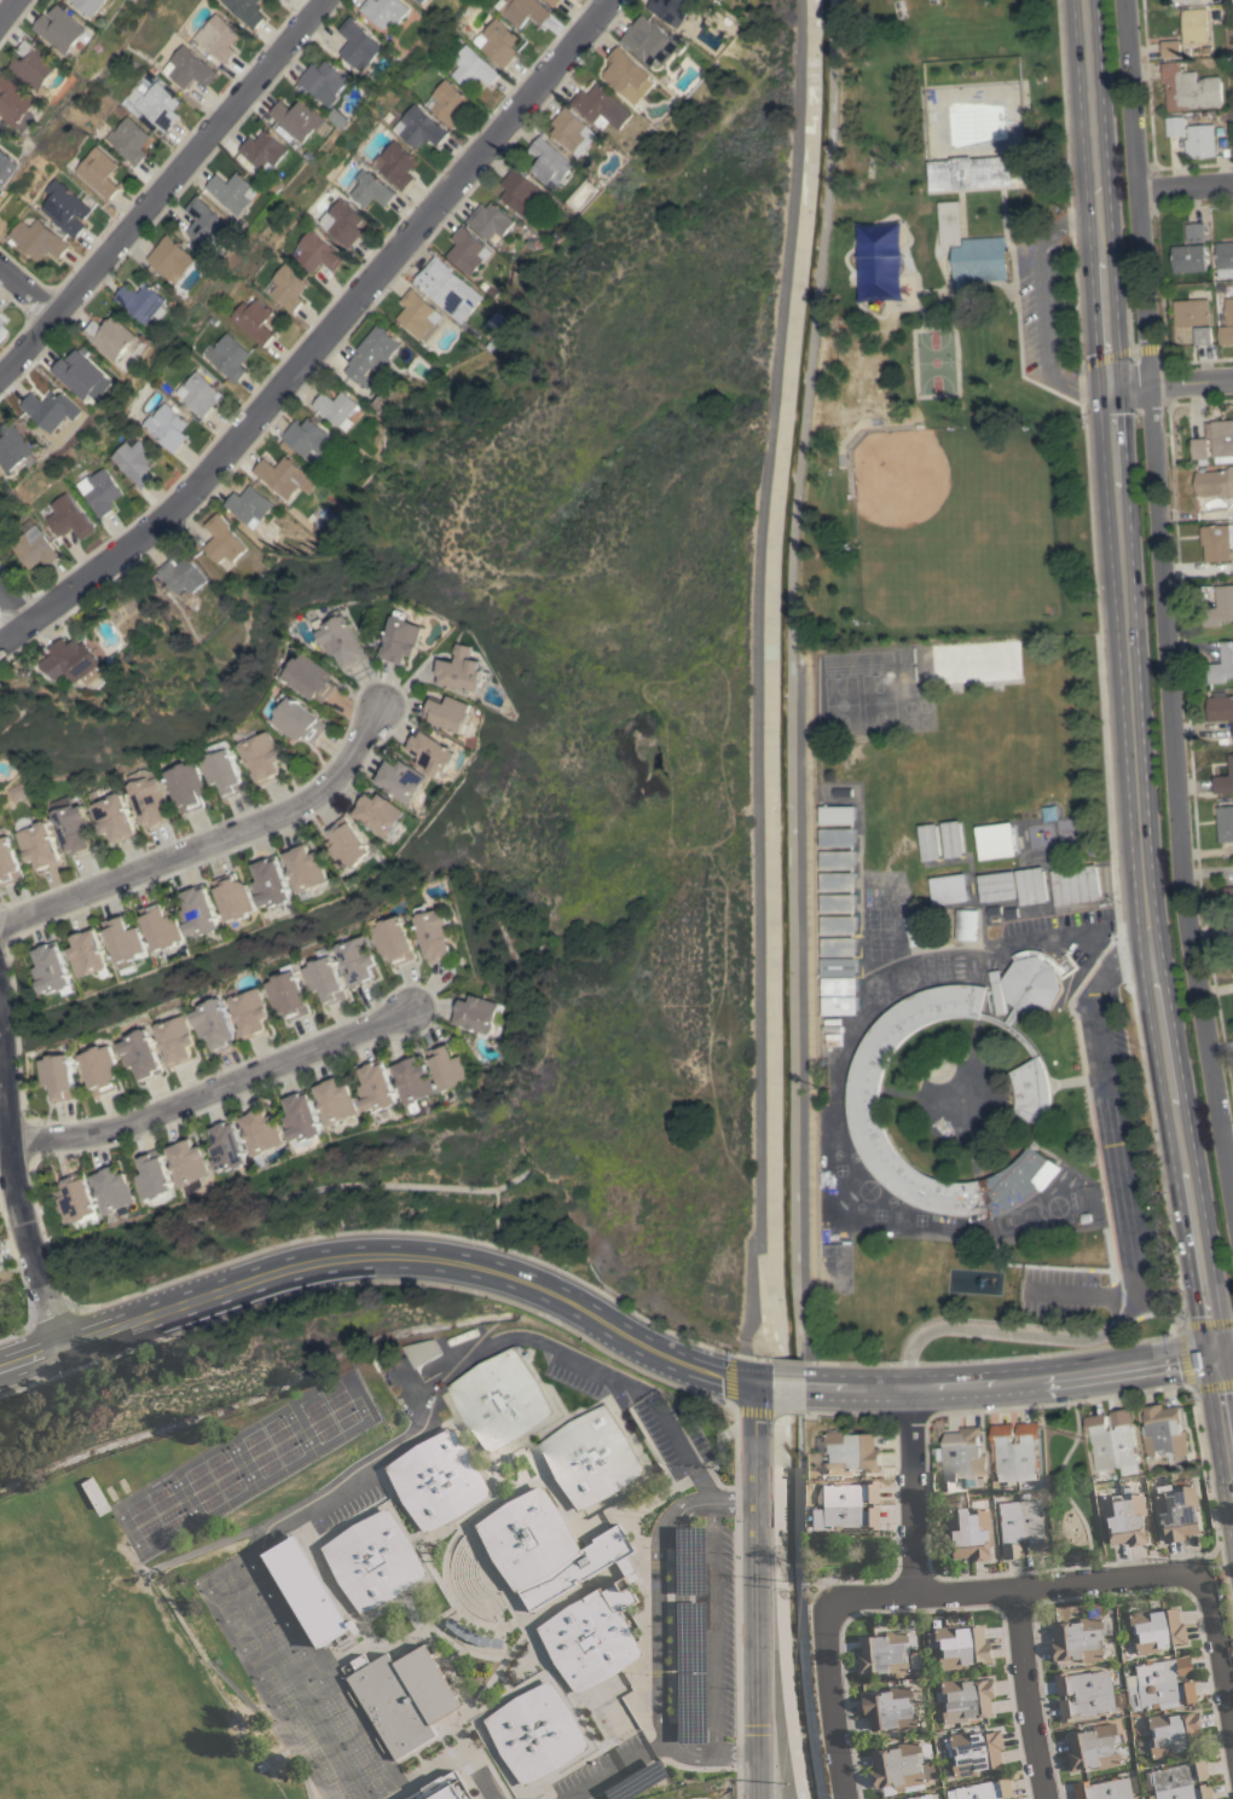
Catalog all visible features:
building: (1182, 0)
building: (421, 1)
building: (552, 2)
building: (93, 5)
building: (673, 10)
building: (245, 11)
building: (386, 11)
building: (525, 11)
road: (11, 12)
building: (1194, 25)
building: (65, 30)
building: (219, 37)
building: (652, 41)
building: (498, 42)
building: (360, 45)
building: (1170, 50)
building: (37, 66)
building: (187, 68)
building: (473, 68)
building: (629, 76)
building: (325, 82)
building: (1188, 88)
building: (18, 103)
building: (447, 103)
building: (155, 105)
building: (603, 106)
road: (1090, 110)
building: (341, 117)
building: (299, 118)
building: (1175, 126)
building: (418, 127)
building: (574, 132)
building: (128, 140)
building: (1199, 141)
building: (265, 151)
building: (550, 162)
building: (395, 164)
building: (7, 168)
building: (976, 172)
building: (98, 173)
road: (168, 186)
road: (1183, 186)
building: (371, 190)
building: (233, 191)
building: (521, 192)
building: (64, 208)
building: (491, 220)
building: (341, 222)
building: (208, 224)
building: (950, 224)
building: (1196, 231)
building: (36, 239)
building: (468, 250)
building: (317, 253)
building: (1225, 254)
building: (173, 259)
building: (1189, 259)
building: (979, 262)
road: (28, 288)
building: (288, 288)
building: (445, 288)
building: (145, 301)
road: (1042, 306)
building: (1229, 311)
building: (1191, 312)
building: (417, 314)
building: (253, 320)
building: (496, 320)
building: (1, 325)
road: (311, 331)
building: (1226, 335)
building: (112, 336)
building: (1202, 336)
park: (947, 341)
building: (372, 355)
building: (228, 357)
park: (934, 361)
building: (83, 375)
road: (1170, 383)
traffic signals: (1108, 387)
building: (197, 394)
building: (387, 403)
building: (335, 406)
building: (53, 410)
building: (166, 427)
building: (1222, 438)
building: (306, 439)
building: (16, 447)
building: (1199, 447)
building: (134, 459)
building: (0, 475)
building: (284, 476)
building: (1215, 482)
building: (99, 491)
park: (931, 503)
building: (249, 505)
building: (68, 517)
building: (222, 540)
building: (1215, 542)
building: (33, 546)
building: (183, 574)
road: (24, 595)
building: (1220, 607)
road: (1163, 614)
building: (405, 638)
building: (345, 641)
building: (71, 661)
building: (1222, 665)
building: (468, 670)
building: (312, 677)
park: (857, 702)
building: (1221, 708)
building: (453, 713)
building: (299, 719)
building: (434, 752)
building: (264, 756)
building: (224, 769)
building: (1225, 779)
building: (403, 780)
building: (187, 787)
building: (19, 791)
building: (150, 800)
building: (380, 812)
building: (838, 815)
building: (114, 817)
building: (1225, 823)
building: (73, 828)
building: (838, 837)
building: (953, 839)
building: (995, 840)
road: (1136, 840)
building: (930, 841)
building: (348, 844)
building: (39, 845)
road: (210, 846)
building: (838, 860)
building: (7, 863)
building: (307, 868)
building: (273, 881)
building: (838, 881)
building: (1075, 884)
building: (998, 886)
building: (1032, 886)
building: (949, 889)
building: (1227, 896)
building: (236, 898)
building: (838, 903)
building: (201, 913)
building: (163, 925)
building: (839, 925)
building: (967, 925)
building: (919, 929)
building: (1229, 931)
building: (434, 933)
road: (1064, 935)
building: (127, 939)
building: (393, 941)
building: (839, 947)
building: (89, 954)
building: (357, 959)
building: (839, 966)
building: (53, 968)
building: (324, 981)
building: (839, 987)
building: (997, 991)
building: (286, 995)
building: (839, 1005)
building: (249, 1012)
building: (484, 1014)
building: (214, 1024)
building: (175, 1040)
building: (833, 1040)
building: (140, 1054)
building: (452, 1066)
building: (99, 1069)
building: (57, 1077)
building: (417, 1081)
building: (1031, 1086)
building: (380, 1087)
road: (214, 1089)
building: (340, 1100)
building: (306, 1120)
building: (266, 1130)
building: (232, 1146)
building: (192, 1161)
building: (156, 1175)
building: (116, 1188)
road: (13, 1198)
building: (79, 1198)
road: (1129, 1255)
road: (1078, 1292)
road: (602, 1323)
building: (421, 1352)
road: (1182, 1354)
road: (1225, 1355)
traffic signals: (1217, 1357)
road: (434, 1386)
traffic signals: (753, 1388)
building: (502, 1400)
building: (1164, 1431)
building: (1112, 1440)
road: (678, 1446)
building: (1017, 1451)
building: (851, 1452)
building: (591, 1457)
building: (963, 1459)
building: (438, 1480)
road: (1059, 1485)
road: (913, 1496)
road: (704, 1503)
building: (847, 1505)
building: (1177, 1510)
road: (1212, 1511)
road: (925, 1512)
building: (1125, 1516)
building: (1023, 1528)
building: (969, 1533)
building: (546, 1546)
building: (374, 1561)
road: (1019, 1587)
building: (307, 1591)
road: (1117, 1592)
road: (756, 1593)
road: (713, 1629)
building: (1154, 1629)
building: (474, 1635)
road: (656, 1635)
road: (679, 1635)
building: (591, 1636)
building: (1079, 1638)
building: (960, 1645)
road: (1220, 1652)
building: (886, 1653)
building: (1162, 1683)
road: (1025, 1694)
building: (1084, 1694)
building: (404, 1697)
building: (965, 1699)
road: (830, 1700)
building: (891, 1708)
building: (536, 1733)
building: (1174, 1733)
road: (662, 1743)
building: (1095, 1747)
building: (976, 1752)
road: (714, 1753)
building: (902, 1766)
road: (609, 1775)
building: (1181, 1781)
road: (487, 1786)
building: (444, 1788)
building: (984, 1789)
building: (1104, 1789)
building: (925, 1797)

